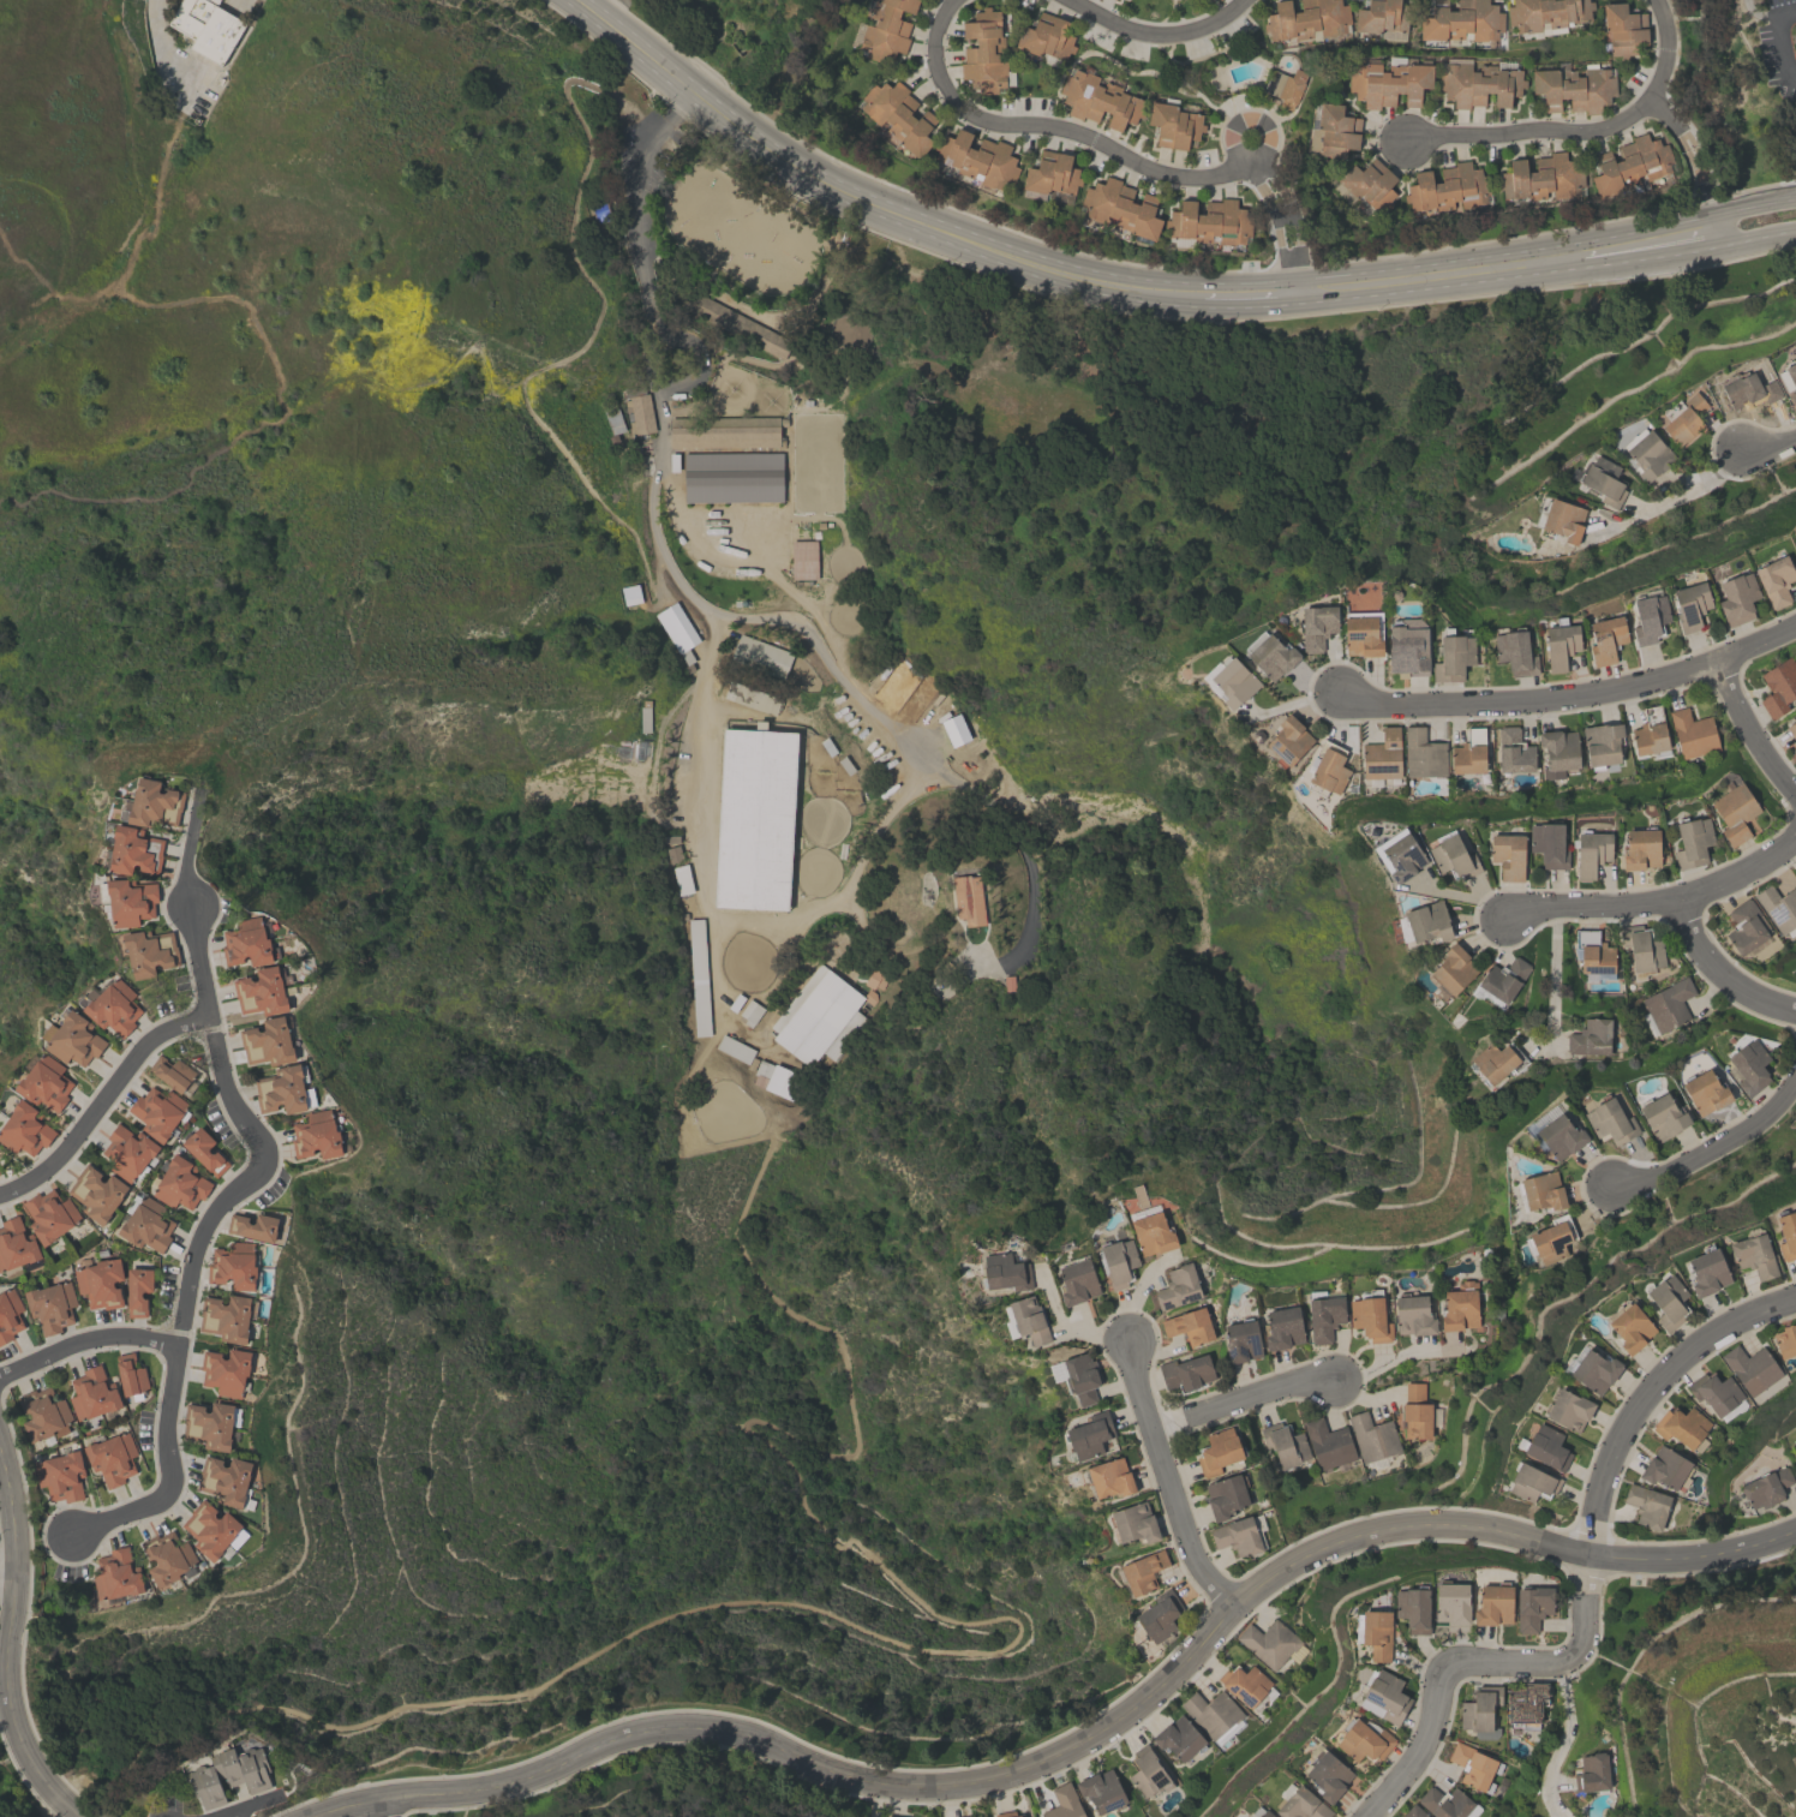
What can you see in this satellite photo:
building: (1114, 0)
building: (1116, 0)
road: (237, 1)
building: (1220, 1)
road: (1758, 13)
road: (154, 14)
building: (1546, 14)
building: (1381, 16)
road: (1786, 16)
building: (1307, 19)
building: (1461, 20)
building: (206, 26)
building: (1624, 30)
building: (887, 31)
road: (1156, 35)
building: (1047, 40)
parking lot: (1779, 48)
road: (1784, 50)
park: (771, 53)
building: (983, 53)
building: (1388, 85)
building: (1478, 85)
building: (1286, 86)
building: (1574, 88)
park: (1731, 94)
building: (1098, 101)
road: (1664, 114)
building: (898, 118)
building: (1174, 127)
road: (1058, 130)
road: (1532, 130)
building: (1333, 135)
building: (978, 161)
building: (1632, 165)
building: (1052, 177)
building: (1543, 179)
building: (1367, 186)
building: (1448, 190)
road: (1747, 199)
road: (863, 201)
building: (1121, 211)
road: (1285, 215)
road: (1294, 216)
road: (640, 221)
building: (1209, 223)
road: (1276, 225)
road: (1752, 233)
road: (1645, 240)
road: (1441, 273)
road: (1251, 294)
building: (738, 325)
building: (1789, 383)
building: (1750, 388)
building: (633, 392)
building: (637, 414)
building: (1683, 420)
building: (612, 422)
building: (783, 422)
building: (724, 431)
building: (612, 438)
road: (1766, 446)
building: (1647, 455)
building: (672, 461)
park: (1169, 465)
building: (731, 477)
building: (1603, 482)
road: (1676, 494)
building: (1561, 520)
building: (802, 560)
building: (1774, 582)
building: (630, 593)
building: (1737, 602)
building: (1690, 608)
building: (1650, 618)
building: (1316, 624)
building: (676, 627)
building: (1363, 632)
building: (1605, 641)
building: (1407, 646)
building: (1559, 646)
building: (1270, 652)
building: (1514, 653)
building: (1453, 655)
building: (761, 656)
road: (824, 657)
building: (1233, 679)
building: (1779, 686)
road: (1574, 694)
building: (752, 698)
building: (645, 719)
building: (1791, 728)
building: (954, 729)
building: (1651, 730)
road: (1744, 730)
building: (1692, 733)
building: (1288, 737)
building: (1603, 743)
building: (827, 746)
building: (1514, 751)
building: (1558, 751)
building: (1469, 752)
building: (1423, 753)
building: (1383, 755)
building: (845, 765)
building: (1328, 767)
building: (154, 802)
building: (1736, 812)
building: (754, 818)
building: (671, 838)
building: (1693, 841)
building: (1549, 842)
building: (1641, 847)
building: (136, 848)
building: (1592, 850)
building: (1400, 853)
building: (673, 854)
building: (1508, 854)
building: (1454, 855)
building: (681, 879)
building: (130, 898)
building: (968, 899)
road: (1656, 903)
building: (1778, 907)
road: (710, 910)
building: (1427, 920)
building: (1744, 926)
building: (249, 942)
building: (1641, 949)
building: (150, 951)
building: (1593, 951)
building: (1453, 968)
road: (1552, 970)
road: (1720, 972)
building: (698, 976)
building: (1503, 978)
building: (875, 979)
building: (1008, 982)
building: (262, 991)
building: (870, 996)
building: (736, 1002)
building: (112, 1005)
building: (1668, 1005)
building: (750, 1012)
building: (819, 1017)
building: (73, 1036)
building: (1591, 1036)
building: (268, 1040)
building: (734, 1048)
building: (1498, 1059)
building: (752, 1063)
building: (1749, 1065)
building: (761, 1072)
building: (173, 1074)
building: (46, 1081)
building: (783, 1082)
building: (281, 1088)
building: (1706, 1090)
road: (102, 1100)
building: (157, 1111)
building: (1663, 1116)
building: (1610, 1119)
building: (25, 1128)
building: (317, 1134)
building: (1558, 1134)
road: (1710, 1147)
building: (127, 1150)
building: (204, 1150)
building: (180, 1183)
building: (1541, 1190)
building: (96, 1193)
road: (228, 1194)
building: (49, 1214)
building: (146, 1224)
building: (253, 1225)
building: (1153, 1233)
building: (1786, 1233)
building: (1551, 1238)
building: (16, 1244)
building: (1754, 1254)
building: (1119, 1261)
building: (233, 1265)
building: (1708, 1271)
building: (1005, 1272)
building: (1077, 1281)
building: (100, 1283)
building: (1178, 1286)
building: (138, 1290)
building: (1669, 1301)
building: (50, 1305)
building: (1460, 1307)
building: (10, 1314)
building: (1324, 1314)
building: (1413, 1314)
building: (1370, 1315)
building: (226, 1316)
building: (1028, 1320)
road: (1070, 1326)
building: (1190, 1326)
building: (1632, 1326)
building: (1283, 1327)
building: (1241, 1339)
building: (1785, 1340)
road: (85, 1341)
road: (1397, 1359)
building: (1752, 1368)
building: (1596, 1369)
building: (1186, 1370)
building: (226, 1371)
building: (131, 1375)
building: (1082, 1377)
road: (1648, 1389)
building: (1714, 1392)
building: (92, 1393)
road: (1250, 1397)
building: (1569, 1407)
building: (1415, 1411)
building: (43, 1412)
building: (209, 1424)
building: (1681, 1424)
building: (1089, 1435)
building: (1372, 1436)
building: (1285, 1444)
building: (1328, 1444)
building: (1546, 1446)
building: (1795, 1446)
building: (1795, 1450)
building: (1219, 1451)
building: (112, 1458)
building: (1665, 1468)
building: (61, 1475)
building: (224, 1478)
building: (1110, 1478)
road: (1169, 1480)
building: (1532, 1482)
building: (1766, 1487)
building: (1226, 1495)
building: (1647, 1505)
building: (1135, 1523)
building: (210, 1529)
building: (1237, 1535)
building: (168, 1556)
road: (1695, 1556)
building: (1143, 1571)
building: (116, 1574)
road: (8, 1576)
road: (914, 1597)
building: (1451, 1602)
building: (1493, 1604)
building: (1532, 1607)
building: (1413, 1608)
building: (1159, 1616)
building: (1376, 1633)
building: (1271, 1643)
road: (8, 1644)
road: (1475, 1666)
building: (1244, 1684)
building: (1384, 1696)
building: (1526, 1704)
building: (1480, 1711)
building: (1213, 1715)
building: (1179, 1738)
building: (1364, 1739)
road: (1563, 1741)
building: (1474, 1767)
building: (1145, 1773)
building: (1592, 1773)
building: (1327, 1775)
building: (232, 1776)
road: (982, 1781)
building: (1101, 1791)
road: (874, 1800)
building: (1064, 1803)
building: (1447, 1803)
building: (1301, 1805)
road: (383, 1807)
building: (1261, 1812)
building: (1413, 1812)
building: (1007, 1815)

